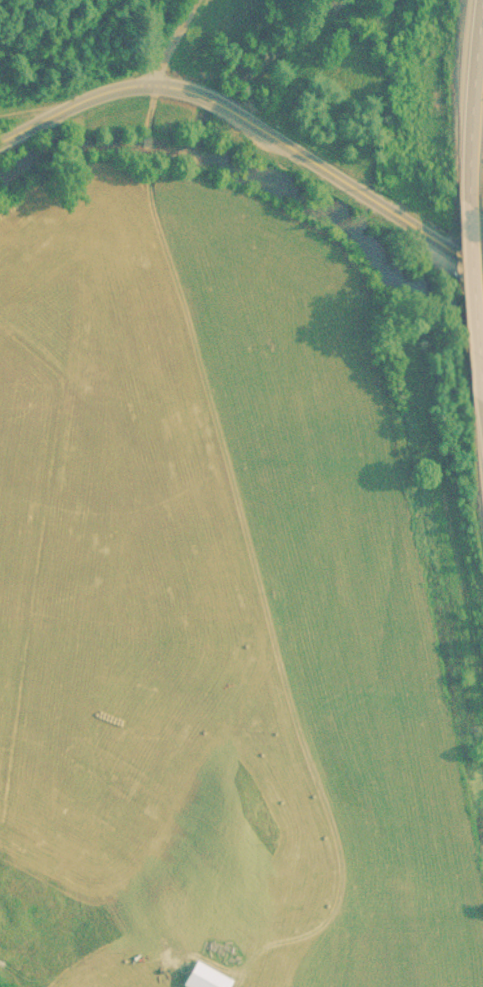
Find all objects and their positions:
road: (169, 38)
road: (75, 100)
road: (472, 103)
road: (323, 167)
road: (471, 302)
road: (478, 419)
building: (204, 973)

